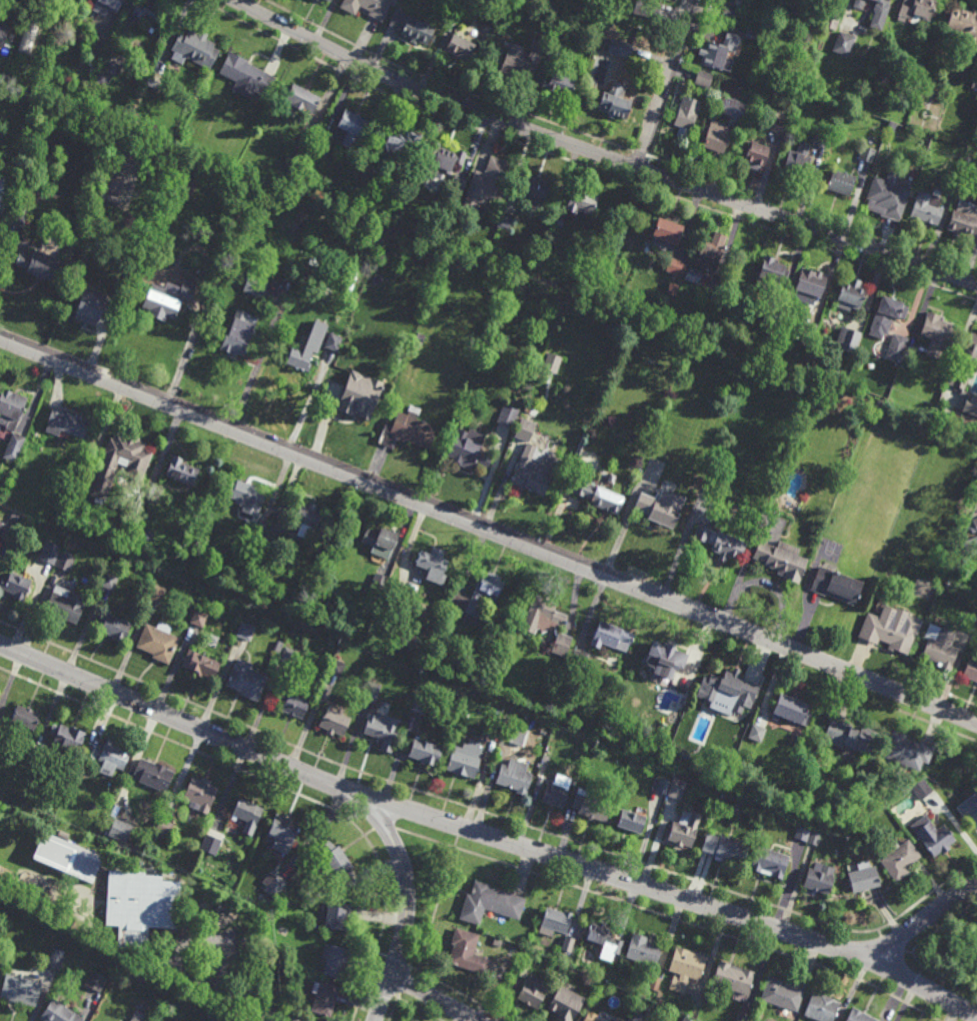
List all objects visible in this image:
building: (329, 0)
building: (110, 4)
building: (857, 4)
building: (367, 7)
building: (647, 8)
building: (2, 10)
building: (916, 10)
building: (146, 13)
building: (880, 14)
building: (730, 15)
building: (797, 15)
building: (457, 16)
building: (831, 21)
building: (963, 24)
building: (763, 25)
building: (412, 28)
building: (752, 33)
building: (3, 34)
building: (763, 34)
building: (27, 38)
building: (540, 42)
building: (843, 44)
building: (461, 48)
building: (619, 48)
building: (195, 49)
building: (555, 49)
building: (719, 51)
building: (95, 52)
building: (515, 68)
building: (246, 76)
building: (101, 79)
building: (704, 79)
building: (881, 79)
building: (155, 80)
building: (561, 82)
building: (974, 83)
road: (664, 84)
building: (819, 91)
building: (800, 94)
building: (301, 100)
building: (615, 103)
building: (732, 108)
building: (687, 114)
building: (777, 124)
building: (348, 130)
building: (715, 137)
building: (821, 140)
building: (399, 143)
building: (320, 151)
building: (298, 153)
building: (158, 155)
road: (602, 155)
building: (866, 155)
building: (754, 156)
building: (442, 158)
building: (461, 159)
building: (796, 165)
building: (186, 174)
building: (951, 181)
building: (840, 183)
building: (487, 185)
building: (458, 186)
building: (539, 189)
building: (111, 190)
park: (5, 191)
building: (887, 197)
building: (582, 206)
building: (926, 208)
building: (18, 216)
building: (556, 220)
building: (963, 220)
building: (505, 222)
building: (667, 235)
building: (711, 254)
building: (39, 266)
building: (675, 268)
building: (771, 276)
building: (693, 277)
building: (811, 284)
building: (255, 287)
building: (672, 292)
building: (851, 296)
building: (169, 302)
building: (94, 309)
building: (892, 309)
building: (770, 320)
building: (807, 329)
building: (935, 334)
building: (238, 338)
building: (847, 340)
building: (418, 341)
building: (333, 342)
building: (672, 346)
building: (896, 347)
building: (554, 356)
building: (298, 358)
building: (967, 361)
building: (747, 366)
building: (970, 405)
building: (11, 406)
building: (529, 407)
building: (364, 408)
building: (509, 414)
building: (66, 423)
building: (413, 428)
building: (525, 428)
building: (13, 447)
building: (469, 448)
building: (137, 464)
building: (75, 468)
building: (182, 470)
building: (534, 470)
building: (598, 494)
building: (246, 496)
building: (661, 505)
building: (307, 515)
building: (0, 523)
building: (975, 524)
road: (489, 529)
building: (8, 532)
building: (259, 532)
building: (273, 539)
building: (380, 540)
building: (720, 540)
building: (971, 547)
building: (50, 553)
building: (781, 559)
building: (66, 561)
building: (433, 564)
building: (110, 581)
building: (378, 584)
building: (837, 585)
building: (16, 586)
building: (491, 586)
building: (157, 594)
building: (66, 604)
building: (466, 609)
building: (200, 618)
building: (547, 622)
building: (116, 629)
building: (895, 630)
building: (245, 631)
building: (611, 636)
building: (159, 641)
building: (278, 646)
building: (939, 647)
building: (289, 656)
building: (666, 658)
building: (577, 659)
building: (202, 664)
building: (336, 668)
building: (970, 670)
building: (247, 681)
building: (372, 689)
building: (727, 692)
building: (294, 706)
building: (418, 706)
building: (792, 710)
building: (26, 717)
road: (177, 719)
building: (333, 722)
building: (495, 728)
building: (382, 730)
building: (511, 733)
building: (757, 733)
building: (850, 736)
building: (69, 737)
building: (551, 750)
building: (663, 750)
building: (907, 751)
building: (425, 753)
building: (685, 756)
building: (110, 757)
building: (465, 759)
building: (34, 762)
building: (155, 776)
building: (515, 777)
building: (662, 787)
building: (921, 789)
building: (676, 791)
building: (557, 792)
building: (873, 792)
building: (201, 795)
building: (590, 807)
building: (969, 807)
building: (247, 816)
building: (631, 822)
building: (165, 828)
building: (119, 830)
building: (684, 830)
building: (282, 833)
building: (803, 834)
building: (63, 836)
building: (815, 837)
building: (933, 837)
building: (212, 838)
building: (725, 849)
building: (68, 858)
building: (900, 859)
building: (335, 861)
building: (770, 864)
road: (406, 876)
building: (864, 878)
building: (820, 879)
building: (273, 886)
road: (670, 894)
building: (490, 904)
building: (142, 907)
building: (339, 917)
road: (923, 919)
building: (555, 923)
road: (193, 938)
building: (602, 938)
building: (568, 945)
building: (643, 951)
building: (61, 953)
building: (468, 953)
building: (513, 954)
building: (56, 962)
building: (334, 963)
building: (524, 967)
building: (685, 969)
building: (734, 979)
building: (97, 982)
building: (655, 984)
building: (21, 992)
building: (533, 993)
building: (782, 995)
road: (384, 998)
road: (435, 998)
building: (324, 1000)
road: (251, 1003)
building: (565, 1006)
building: (822, 1008)
building: (59, 1013)
building: (640, 1016)
building: (859, 1016)
building: (140, 1017)
building: (590, 1017)
building: (742, 1018)
building: (617, 1019)
building: (686, 1020)

